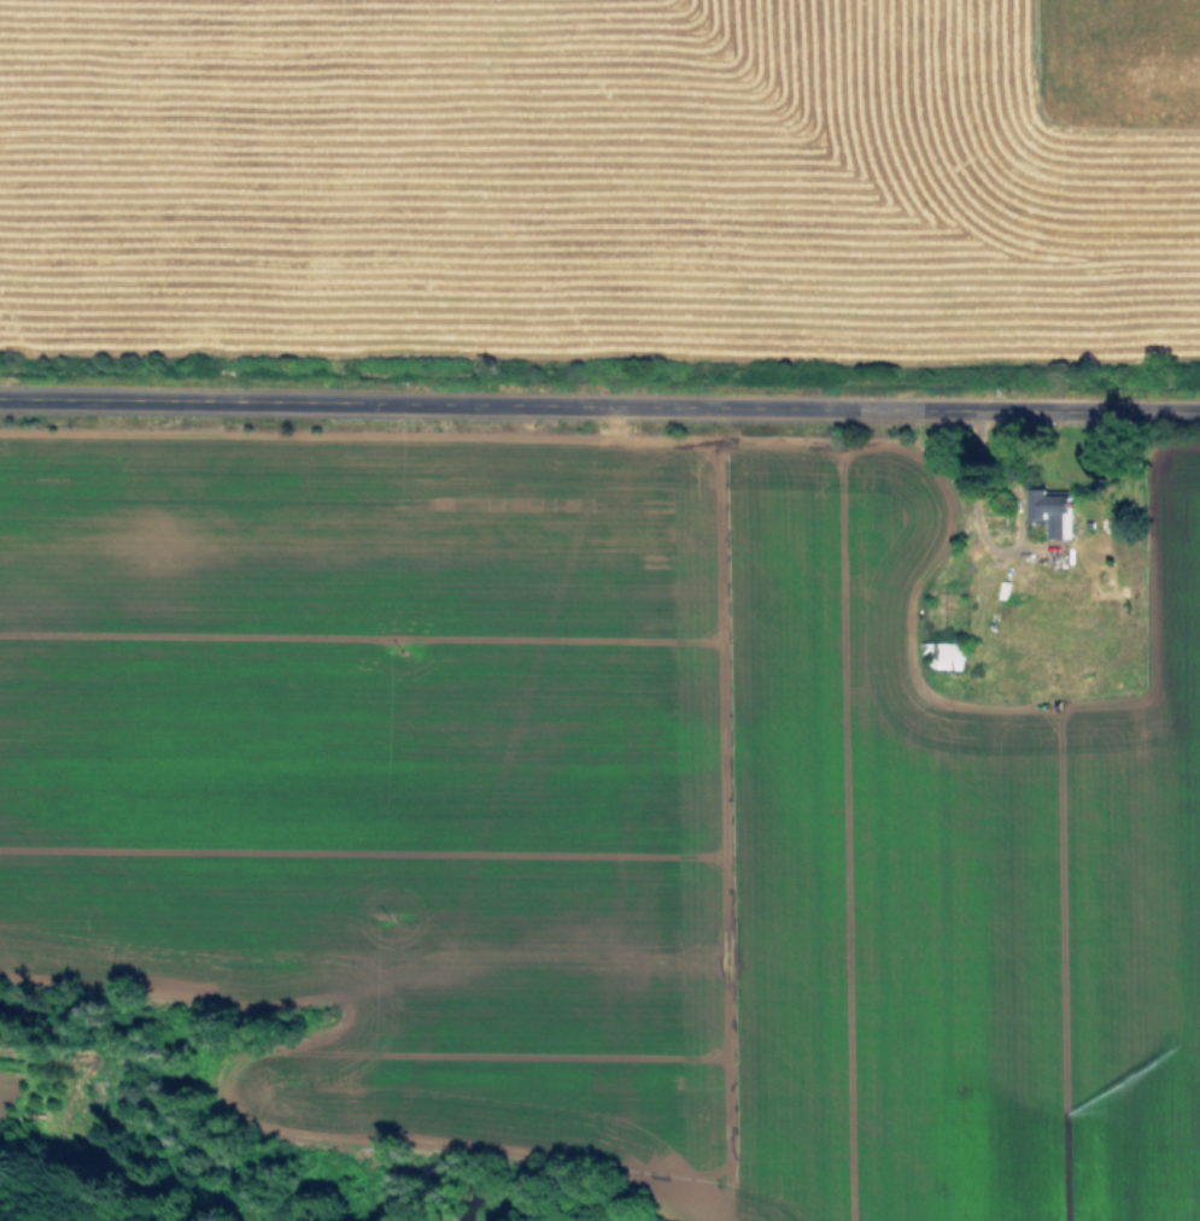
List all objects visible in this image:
road: (599, 397)
road: (989, 534)
crop: (603, 606)

